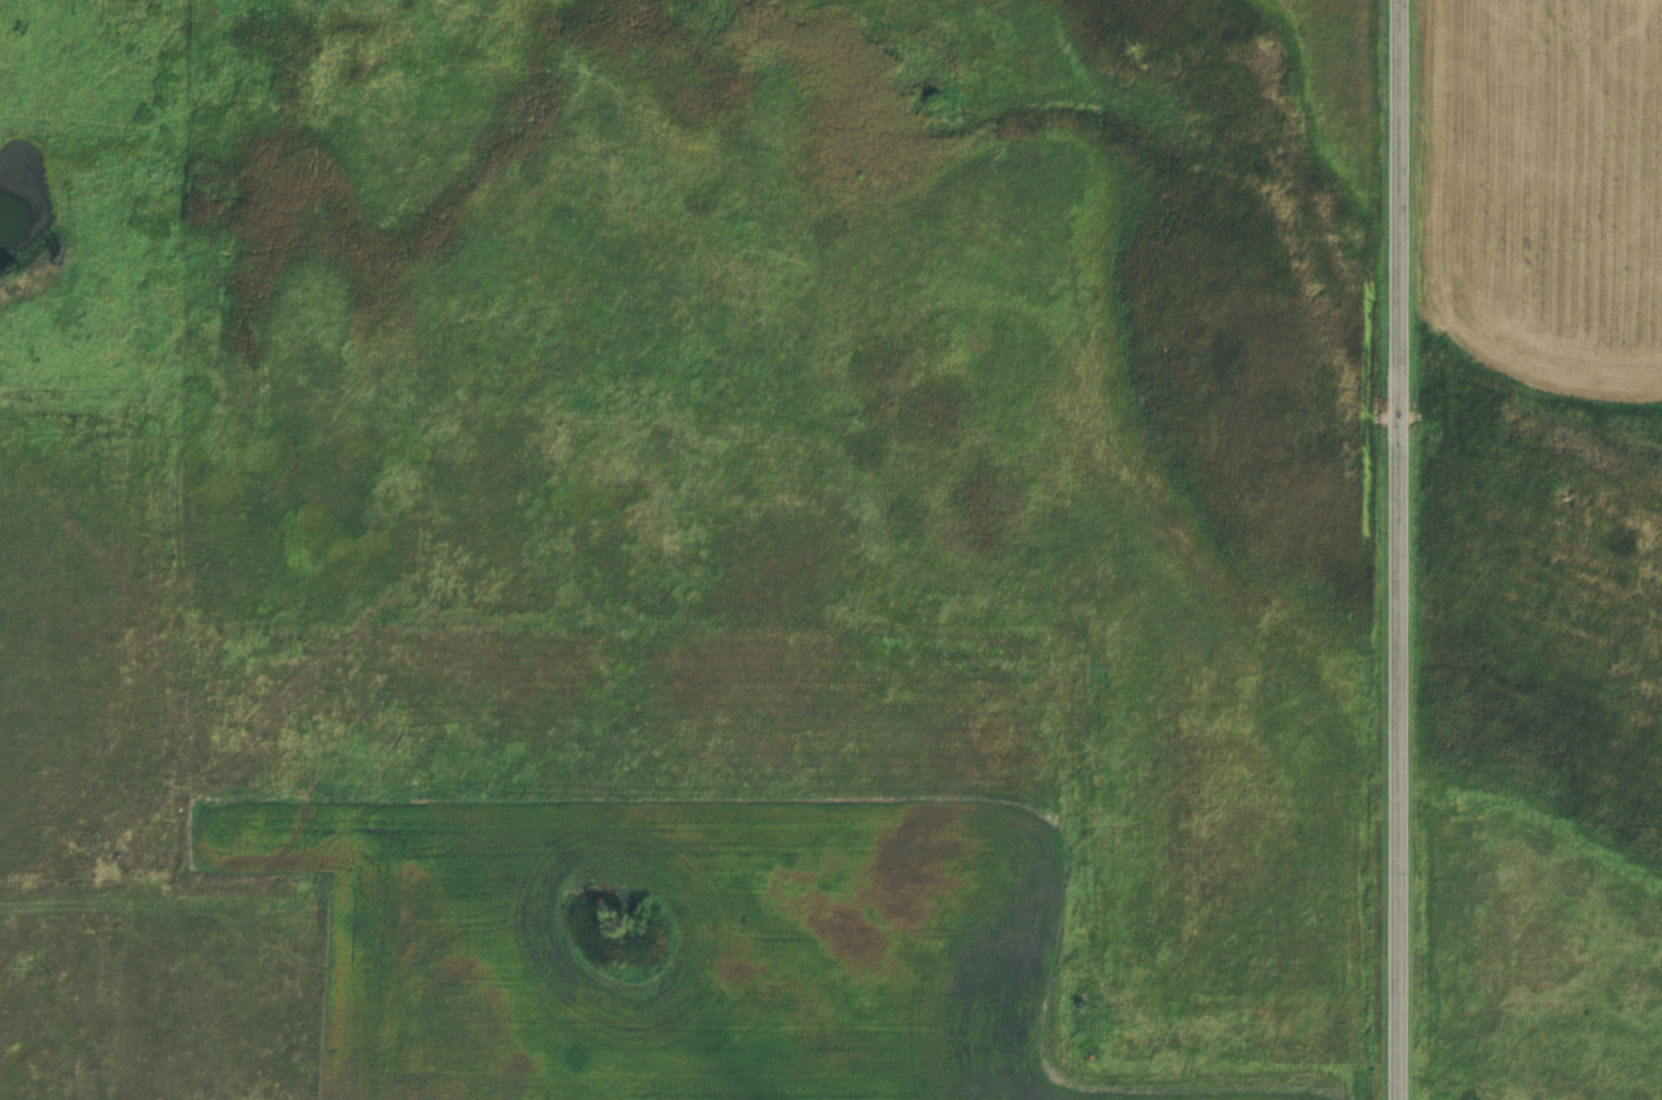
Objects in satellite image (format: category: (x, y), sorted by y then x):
road: (1396, 549)

